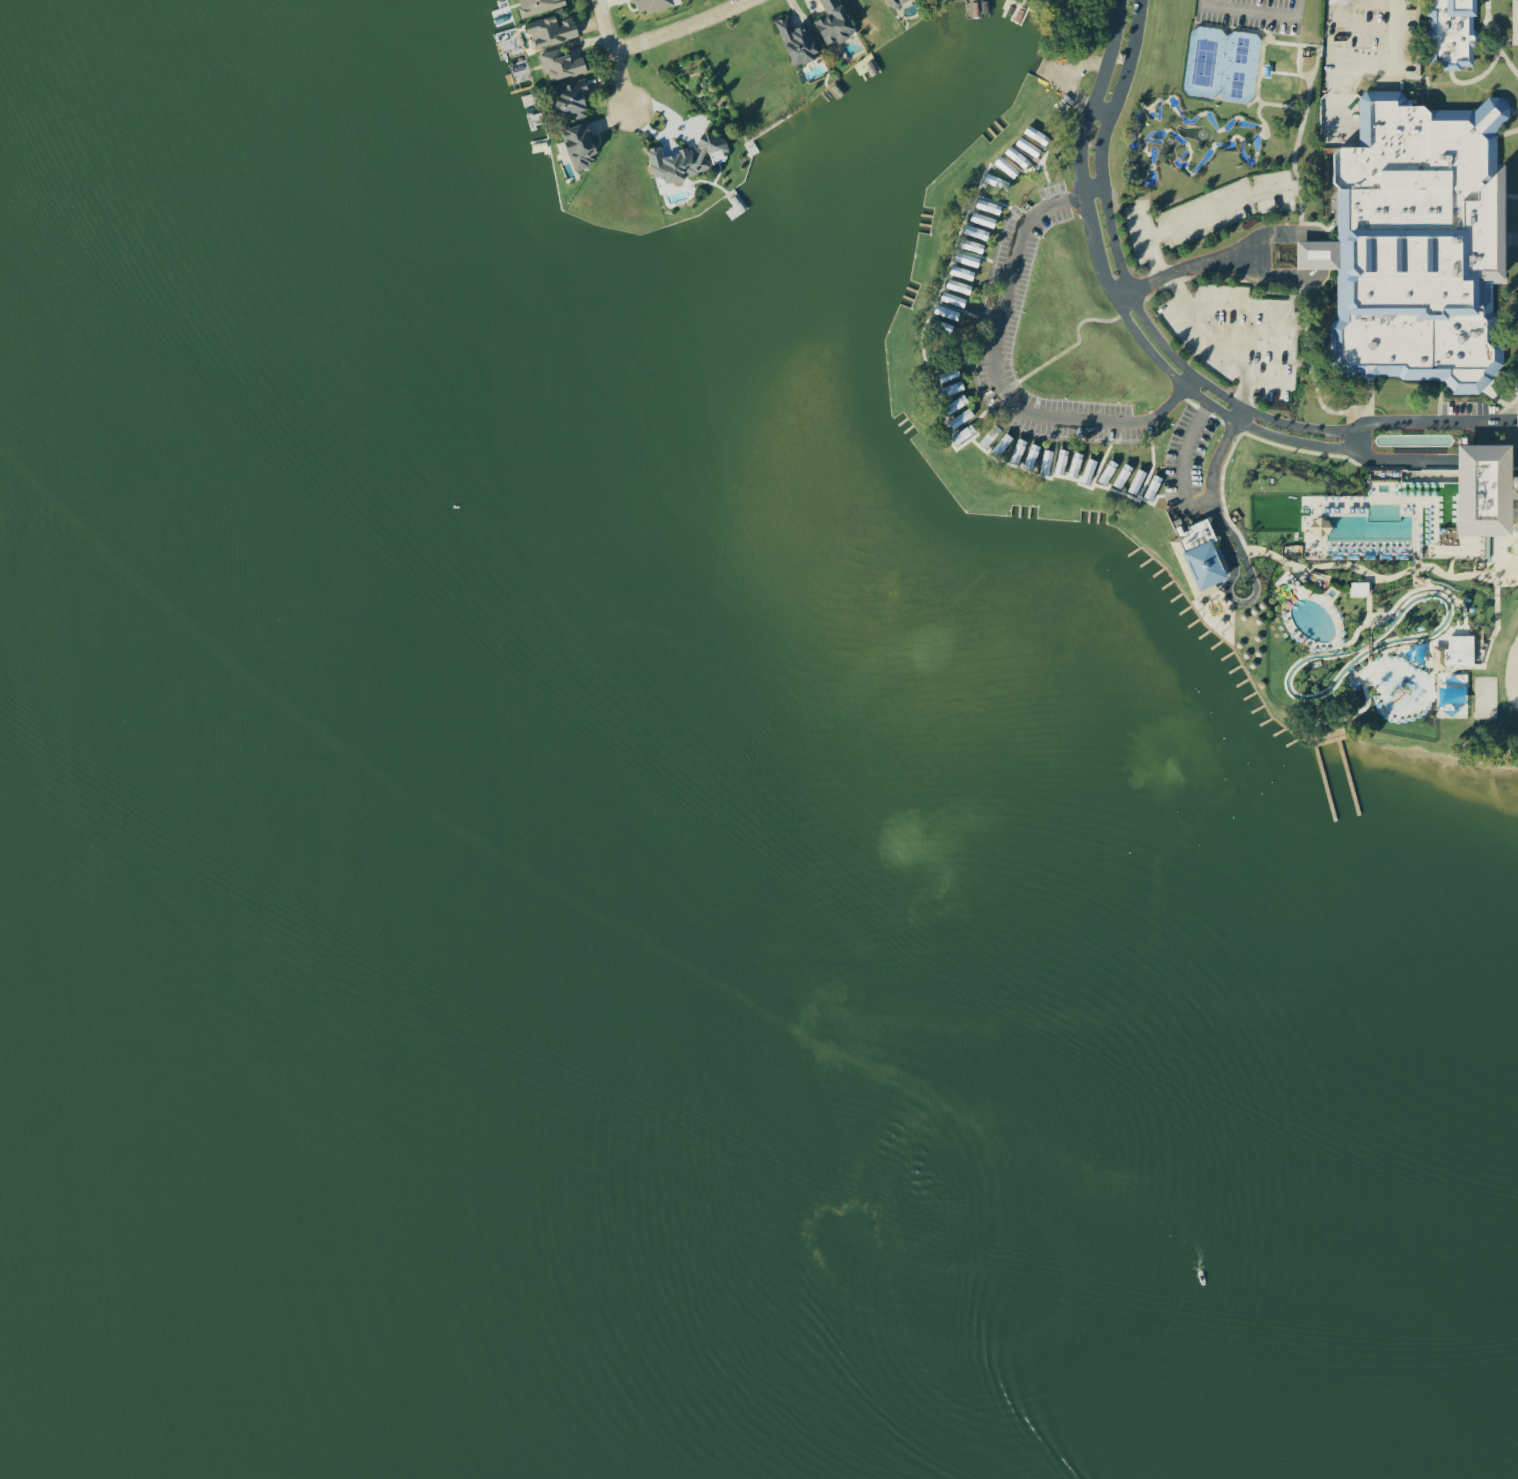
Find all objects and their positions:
building: (895, 2)
building: (539, 5)
building: (651, 5)
park: (1259, 13)
building: (835, 22)
building: (1515, 22)
road: (682, 27)
building: (552, 29)
building: (1454, 30)
building: (798, 41)
road: (614, 50)
park: (1228, 62)
building: (562, 64)
road: (1375, 66)
building: (1281, 71)
building: (572, 98)
building: (580, 145)
building: (1018, 156)
building: (689, 157)
road: (1196, 216)
building: (981, 224)
road: (1286, 232)
building: (1416, 240)
road: (1125, 278)
building: (957, 289)
road: (1214, 347)
road: (999, 370)
building: (956, 399)
road: (1428, 420)
building: (1035, 453)
road: (1393, 459)
building: (1106, 473)
building: (1490, 489)
road: (1237, 540)
building: (1207, 565)
building: (1361, 588)
building: (1454, 653)

